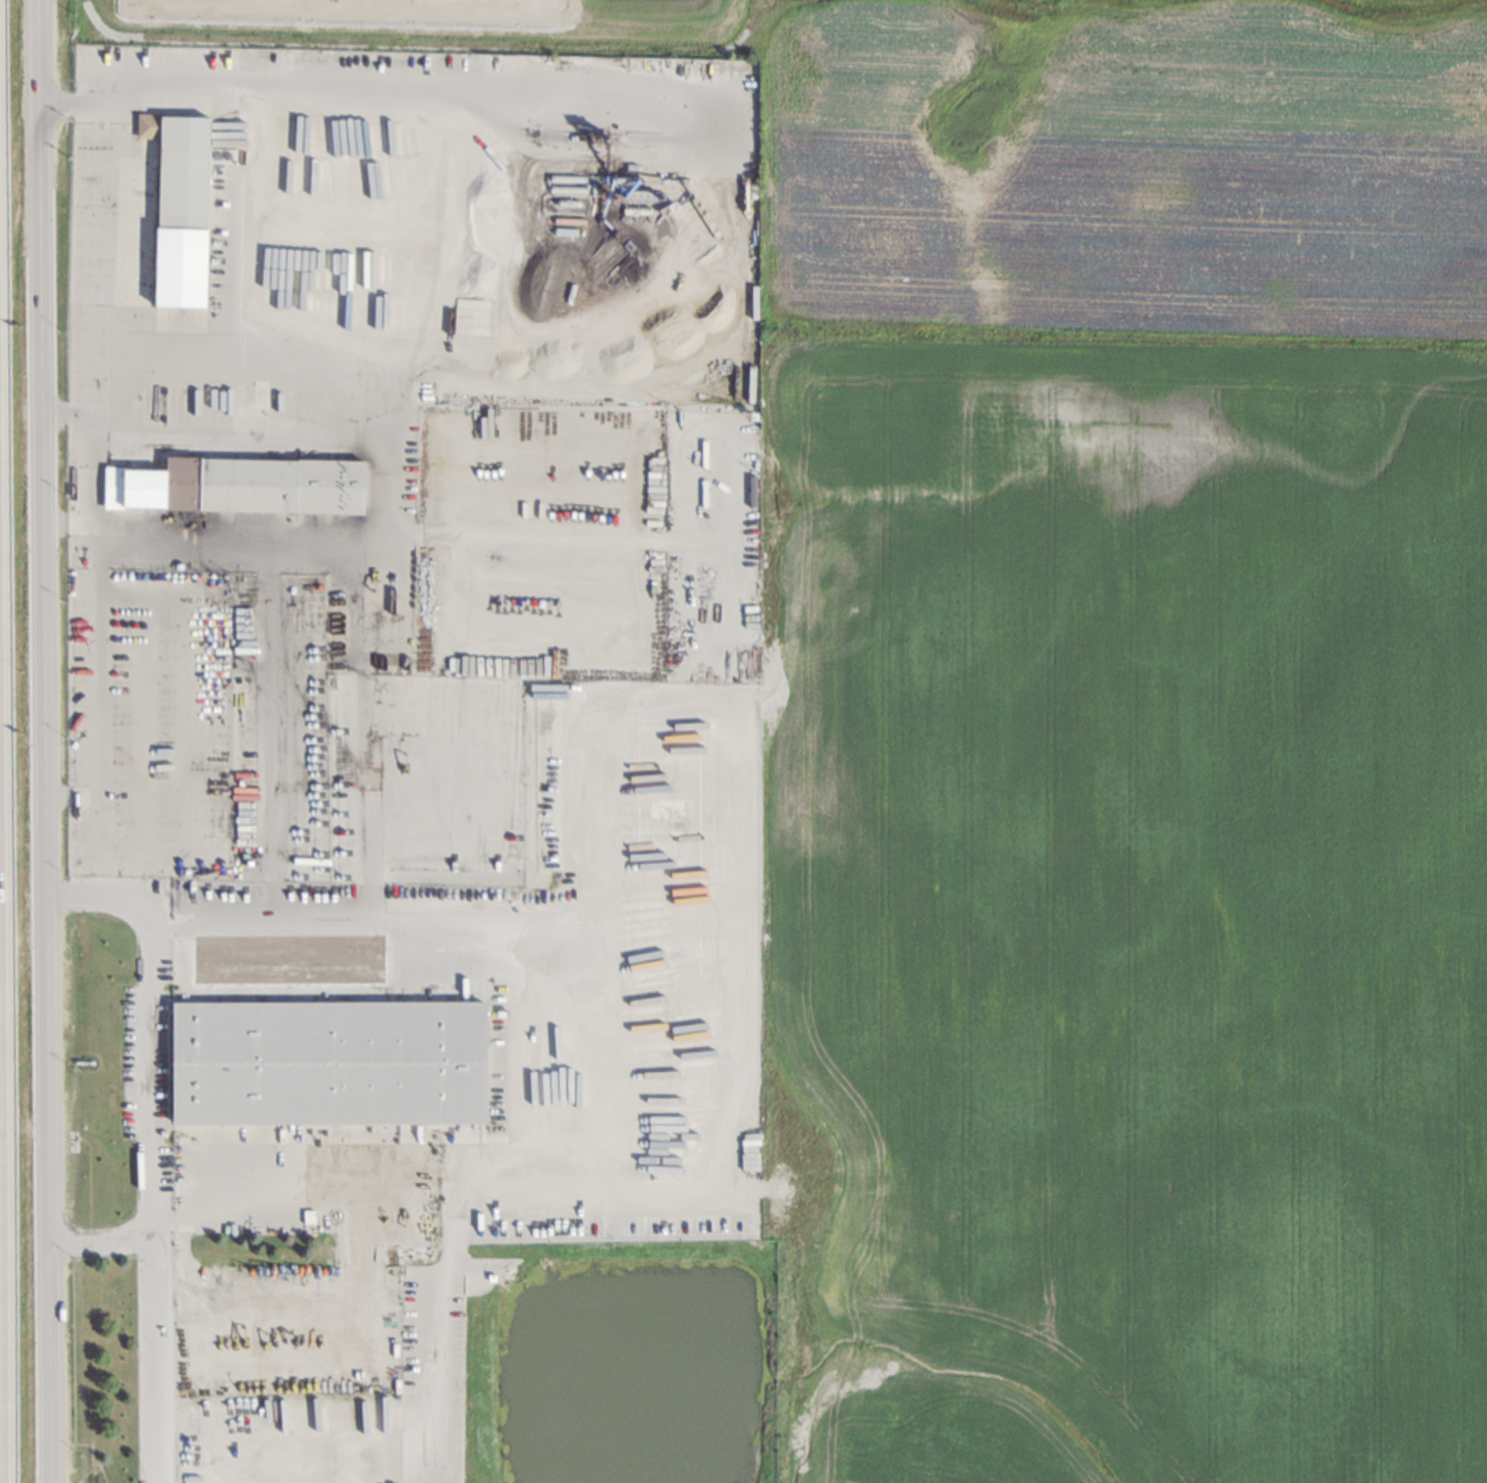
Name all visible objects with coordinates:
road: (364, 95)
building: (180, 213)
road: (96, 313)
road: (247, 358)
building: (241, 488)
road: (381, 527)
road: (108, 535)
road: (43, 741)
road: (273, 744)
road: (360, 745)
road: (735, 795)
road: (147, 834)
road: (164, 929)
parking lot: (147, 1062)
building: (326, 1065)
road: (155, 1069)
road: (23, 1129)
road: (549, 1135)
road: (152, 1356)

